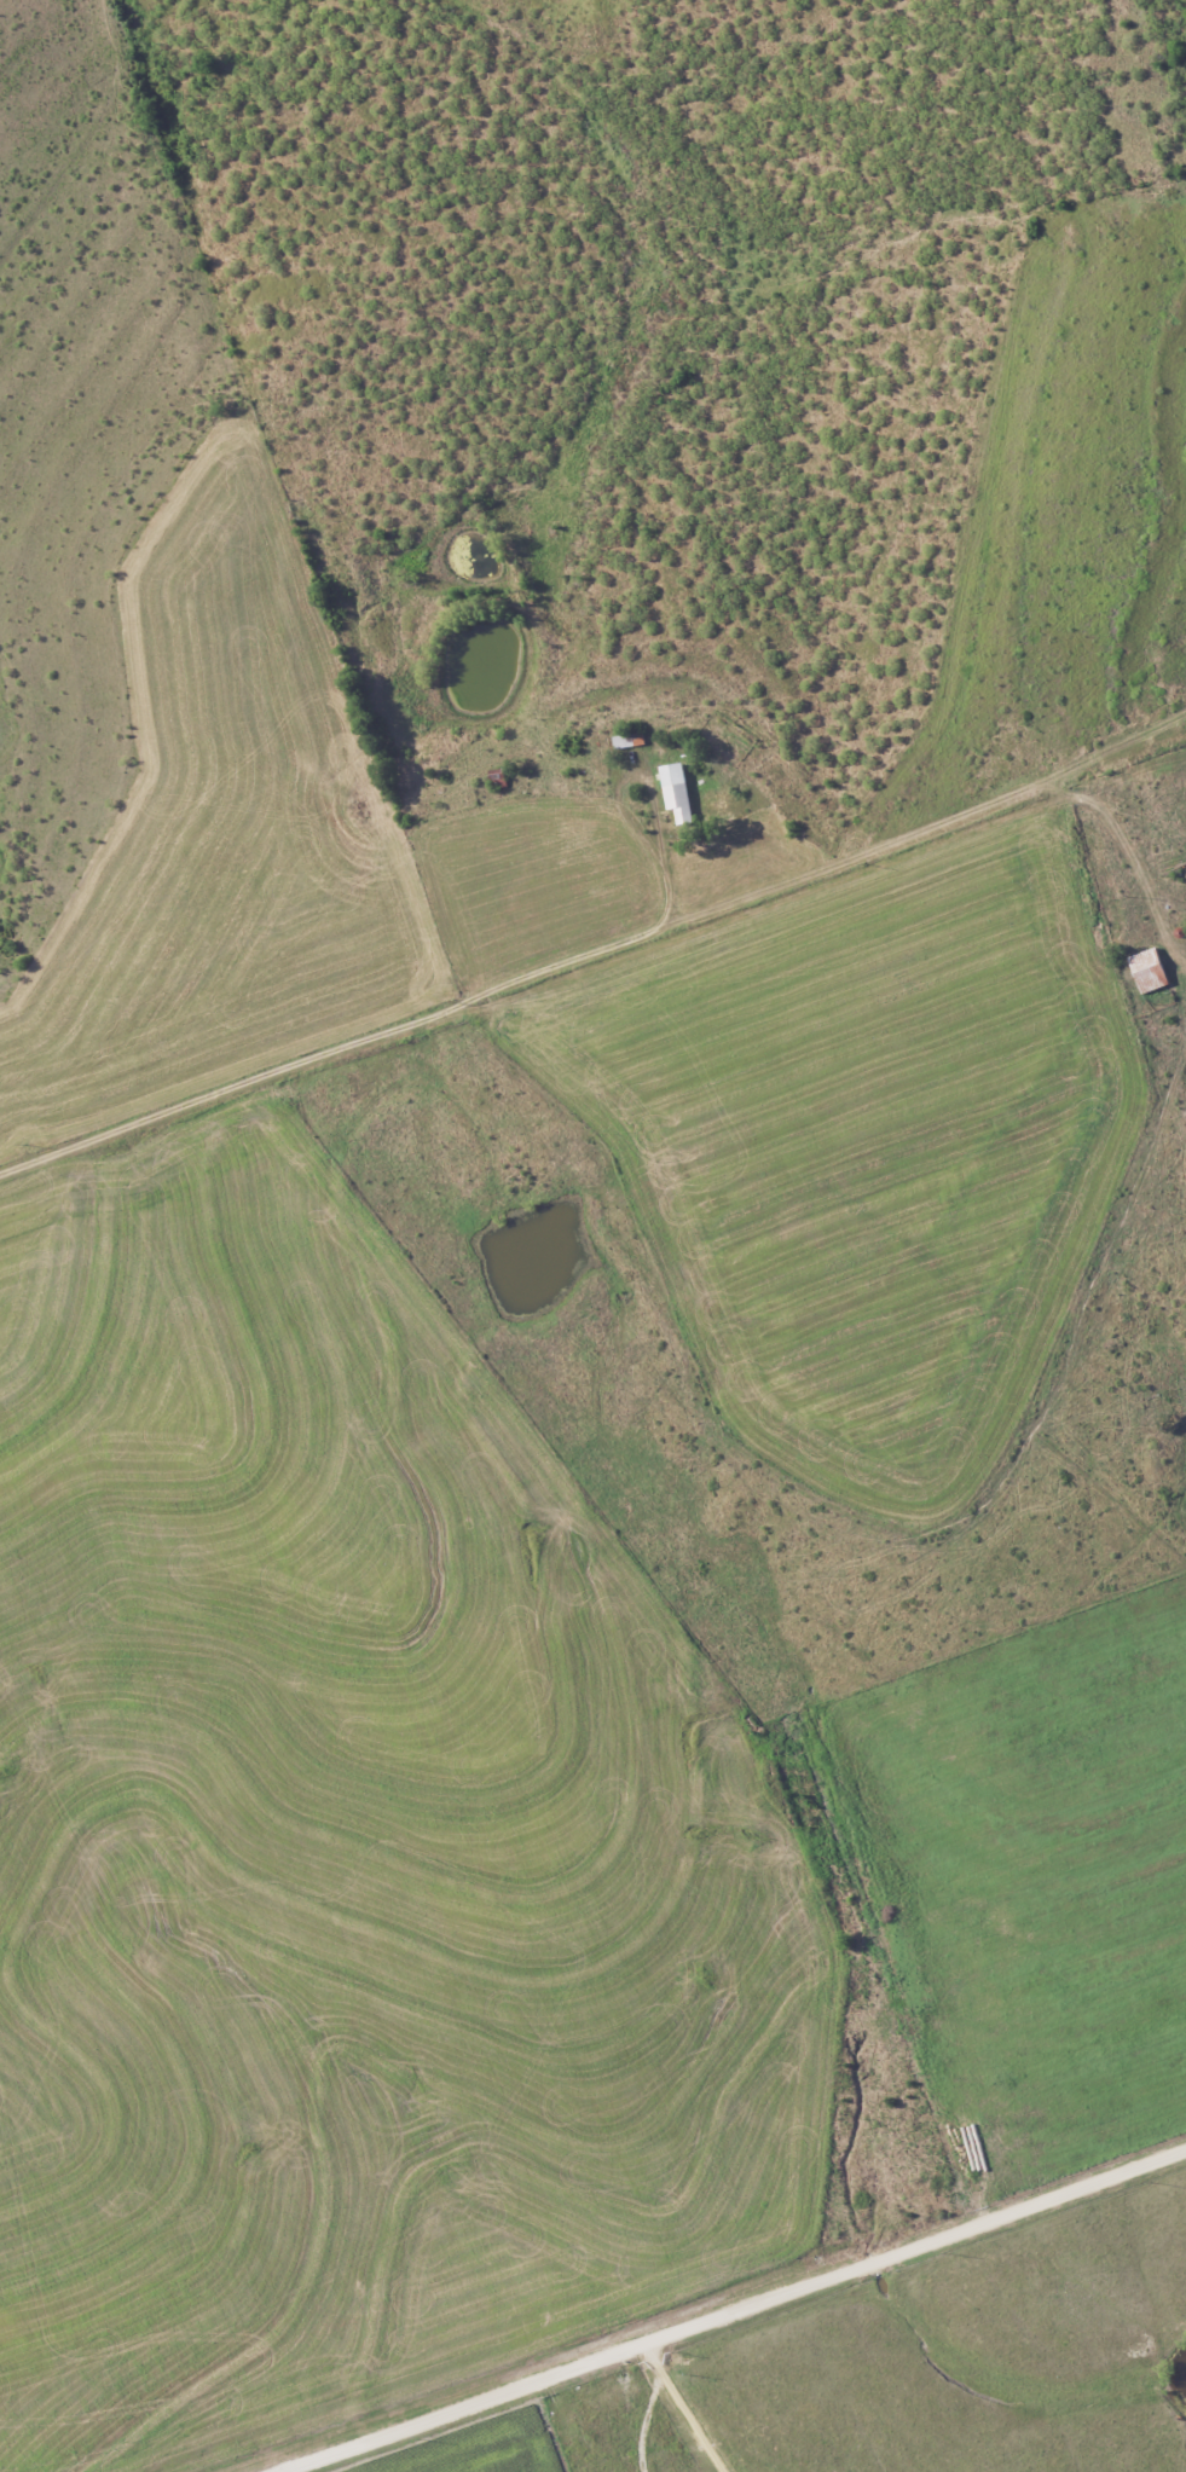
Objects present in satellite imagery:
building: (678, 791)
road: (664, 867)
building: (1149, 969)
road: (339, 1049)
road: (739, 2321)
road: (648, 2409)
road: (692, 2422)

